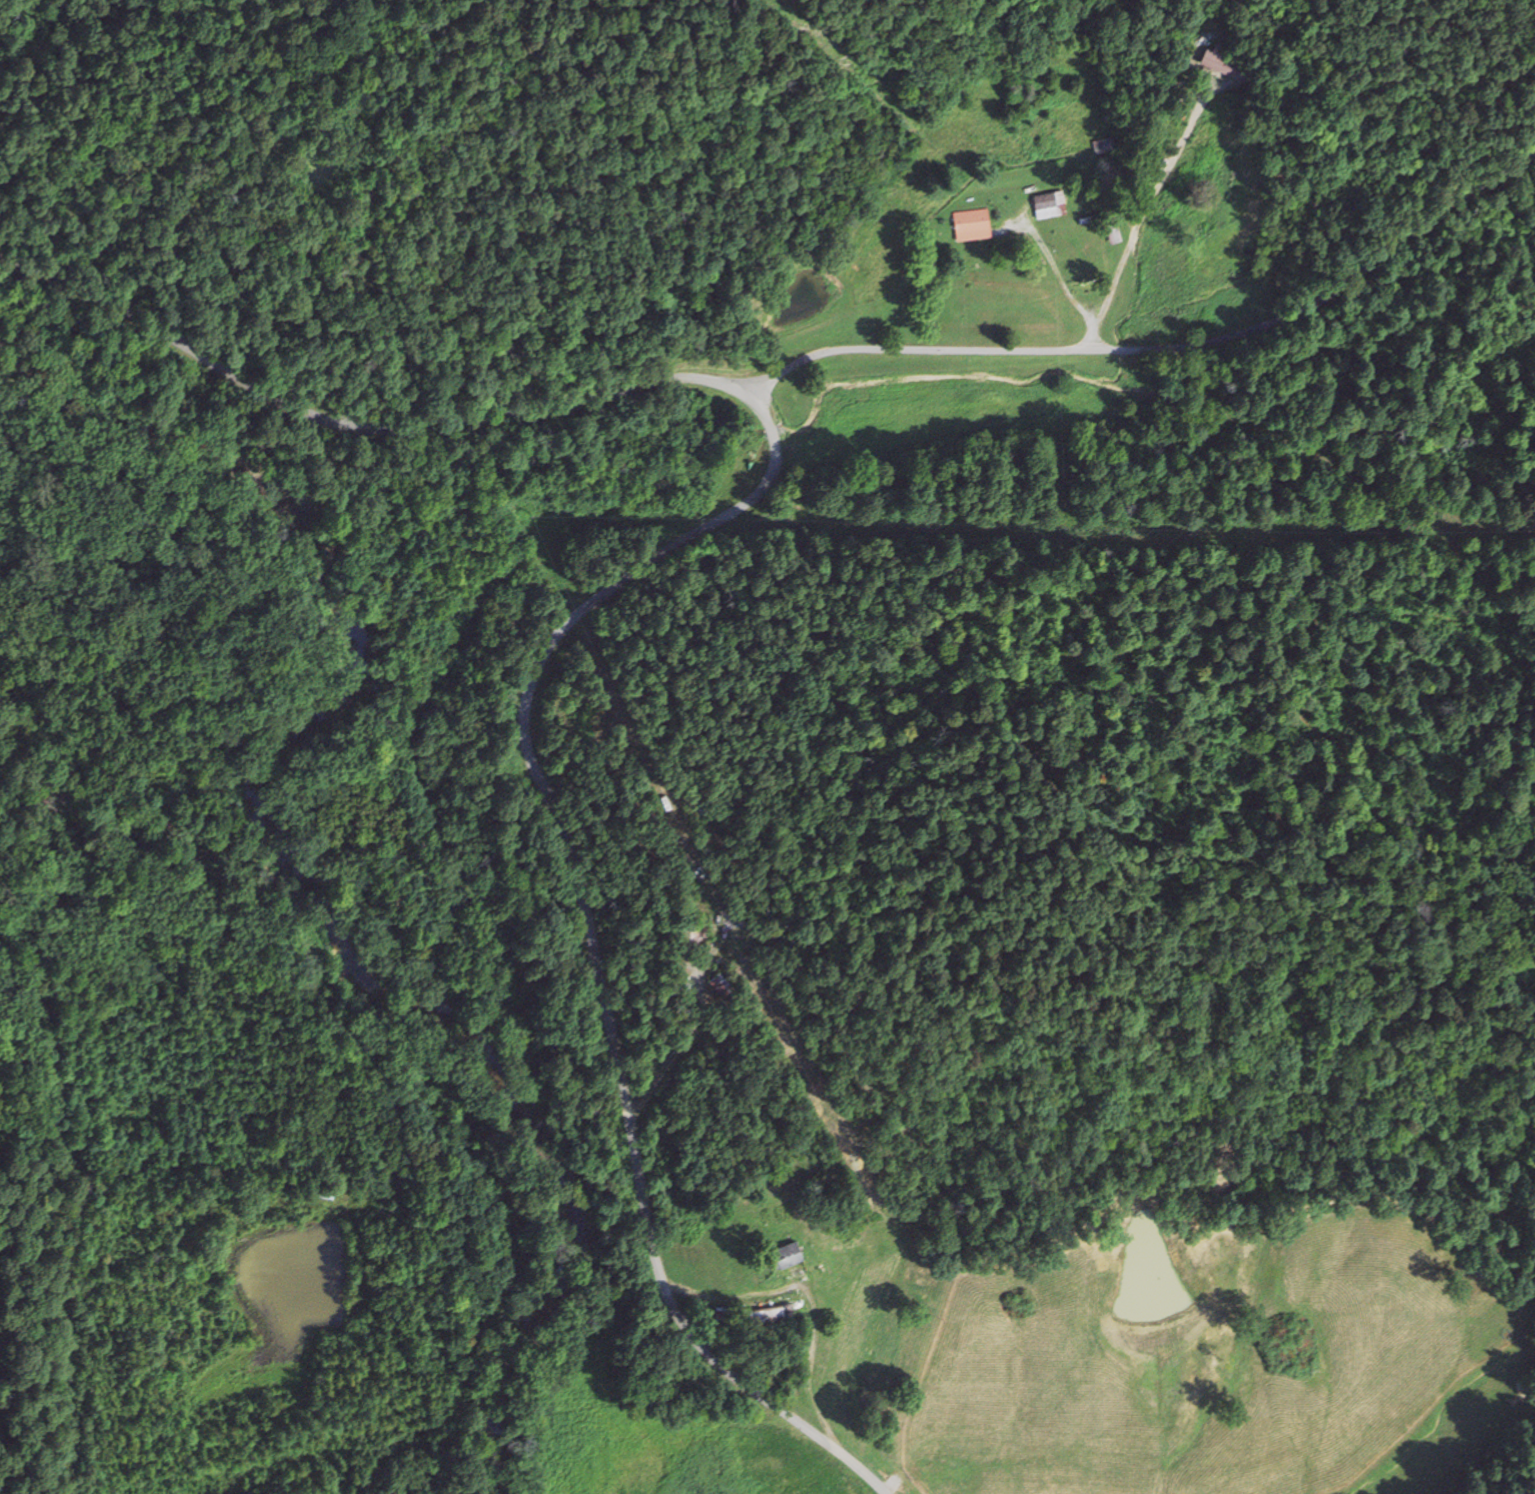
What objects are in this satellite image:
building: (1225, 66)
building: (1103, 146)
road: (1269, 154)
building: (1049, 203)
building: (971, 223)
building: (1113, 234)
road: (1164, 350)
road: (633, 582)
building: (722, 989)
building: (325, 1191)
road: (13, 1214)
building: (787, 1254)
building: (773, 1313)

